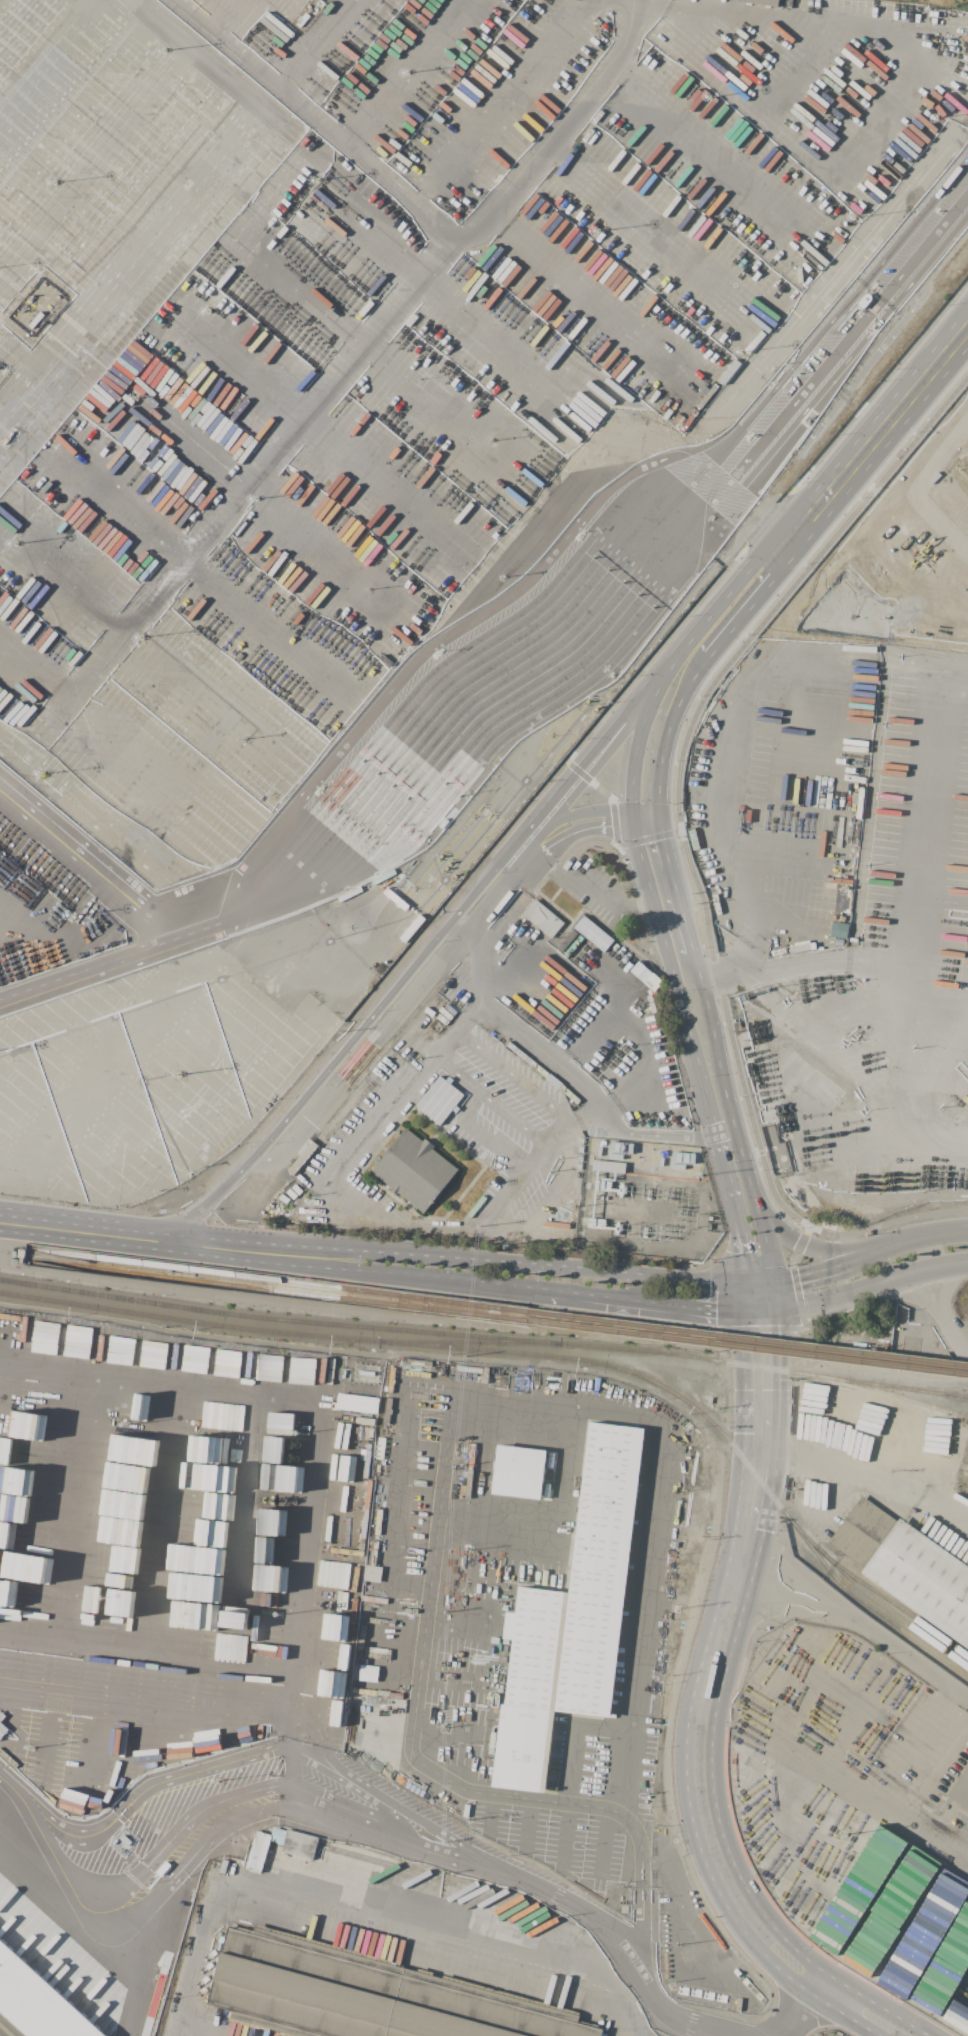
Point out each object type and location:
road: (599, 2)
building: (762, 2)
road: (6, 7)
road: (785, 12)
road: (317, 46)
road: (400, 71)
road: (503, 105)
road: (556, 123)
road: (91, 149)
road: (176, 198)
road: (415, 202)
road: (703, 262)
road: (450, 290)
road: (369, 349)
road: (320, 430)
road: (957, 453)
road: (263, 471)
road: (829, 492)
road: (268, 502)
road: (935, 527)
road: (868, 530)
parking lot: (920, 543)
road: (607, 560)
road: (217, 580)
road: (143, 650)
road: (434, 661)
road: (679, 679)
road: (736, 714)
road: (549, 717)
road: (88, 720)
road: (679, 766)
road: (589, 781)
traffic signals: (633, 809)
road: (572, 817)
traffic signals: (660, 817)
traffic signals: (634, 821)
road: (616, 822)
road: (568, 832)
road: (649, 838)
road: (90, 861)
road: (115, 862)
road: (767, 862)
road: (920, 880)
road: (185, 900)
road: (656, 913)
building: (543, 918)
road: (688, 934)
road: (431, 949)
building: (614, 959)
road: (108, 965)
road: (779, 965)
road: (508, 1024)
road: (597, 1025)
road: (518, 1079)
building: (440, 1100)
road: (488, 1103)
road: (646, 1103)
road: (725, 1130)
road: (560, 1138)
building: (609, 1166)
building: (415, 1170)
road: (559, 1187)
power substation: (645, 1201)
road: (366, 1206)
road: (731, 1208)
building: (596, 1223)
road: (887, 1224)
road: (761, 1225)
road: (86, 1231)
road: (942, 1238)
road: (812, 1246)
road: (799, 1247)
road: (884, 1253)
road: (458, 1258)
railway: (183, 1266)
road: (358, 1271)
road: (812, 1274)
railway: (181, 1278)
traffic signals: (744, 1284)
road: (759, 1284)
traffic signals: (774, 1284)
road: (872, 1285)
road: (744, 1297)
road: (775, 1297)
road: (798, 1298)
road: (616, 1299)
road: (714, 1311)
traffic signals: (744, 1311)
road: (760, 1311)
traffic signals: (777, 1311)
road: (361, 1313)
railway: (194, 1321)
railway: (360, 1326)
railway: (653, 1326)
road: (765, 1330)
railway: (653, 1335)
railway: (467, 1343)
road: (775, 1353)
road: (744, 1354)
railway: (845, 1380)
road: (468, 1389)
railway: (936, 1390)
railway: (904, 1399)
road: (306, 1400)
building: (356, 1403)
railway: (714, 1426)
building: (520, 1472)
road: (52, 1477)
road: (865, 1483)
road: (164, 1515)
building: (907, 1567)
building: (372, 1573)
railway: (875, 1611)
railway: (893, 1611)
building: (572, 1617)
road: (861, 1627)
road: (457, 1632)
building: (368, 1673)
road: (456, 1675)
road: (148, 1688)
parking lot: (462, 1705)
road: (295, 1726)
building: (2, 1729)
road: (134, 1732)
road: (445, 1735)
road: (576, 1741)
road: (702, 1754)
parking lot: (608, 1759)
road: (289, 1777)
road: (906, 1784)
building: (961, 1789)
road: (134, 1798)
road: (489, 1814)
road: (379, 1821)
road: (528, 1824)
road: (441, 1831)
building: (278, 1834)
road: (567, 1836)
parking lot: (556, 1840)
road: (604, 1841)
building: (300, 1844)
building: (259, 1851)
road: (438, 1860)
road: (146, 1865)
road: (642, 1881)
road: (368, 1907)
road: (122, 1926)
road: (148, 1961)
road: (645, 1986)
building: (364, 1995)
building: (37, 2002)
road: (799, 2009)
railway: (8, 2027)
railway: (1, 2034)

